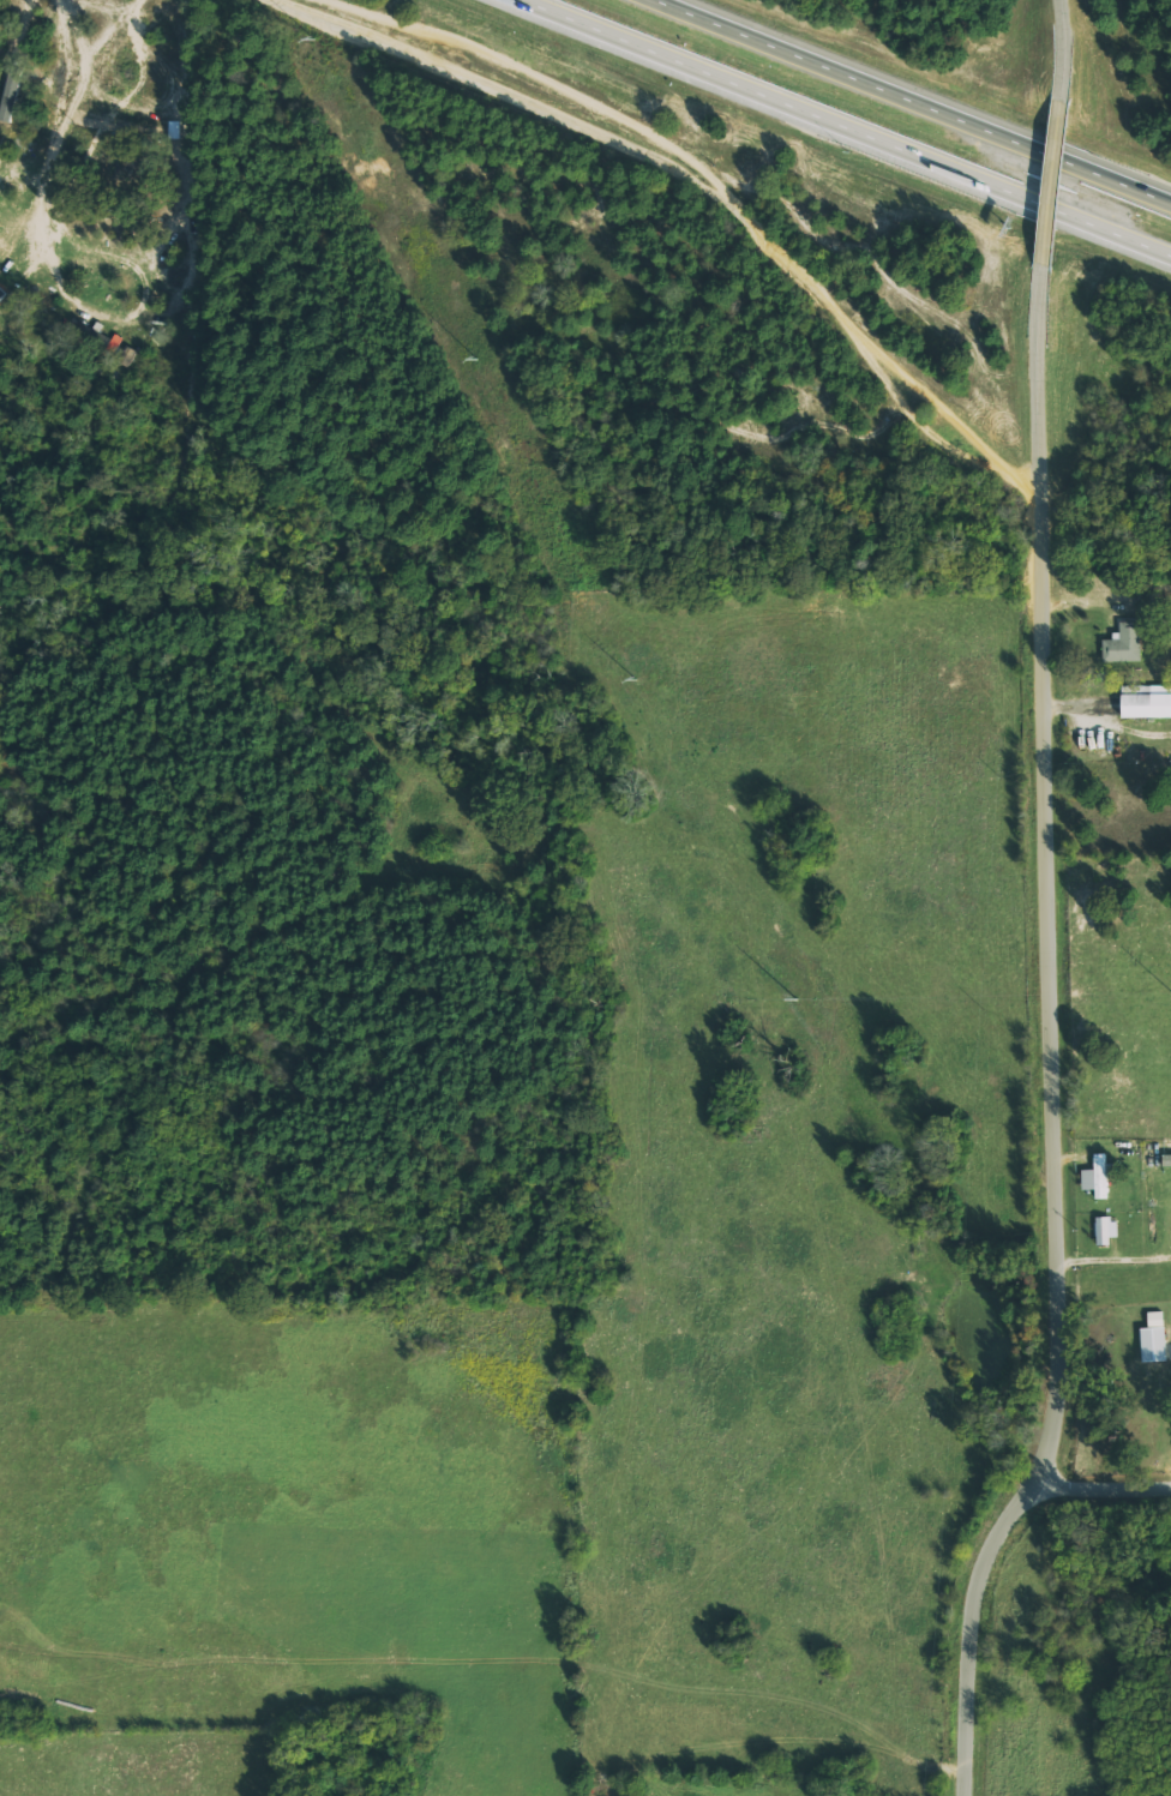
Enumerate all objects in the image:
road: (1070, 49)
road: (913, 101)
road: (851, 126)
road: (698, 181)
road: (1062, 182)
building: (1123, 643)
building: (1145, 701)
road: (1050, 1040)
building: (1166, 1160)
building: (1095, 1177)
building: (1106, 1230)
building: (1153, 1338)
road: (1052, 1491)
road: (1118, 1492)

